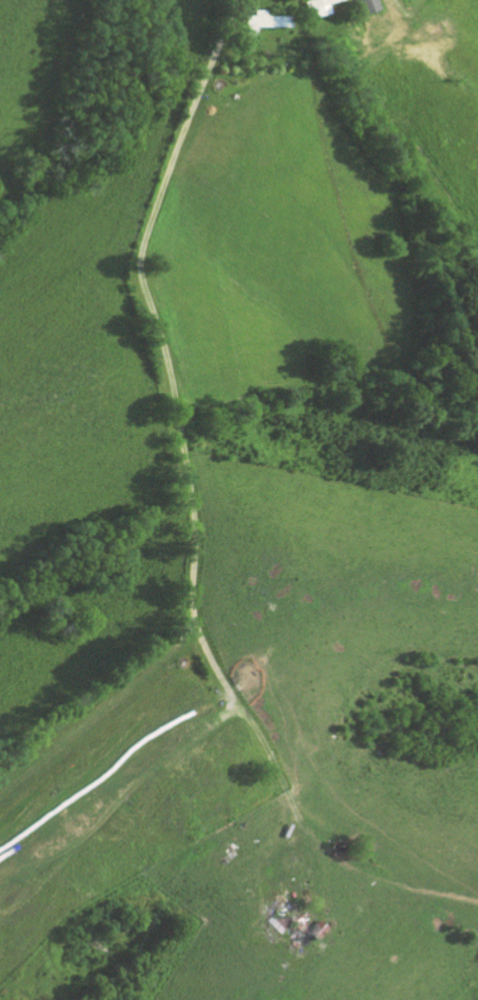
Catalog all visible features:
building: (370, 6)

